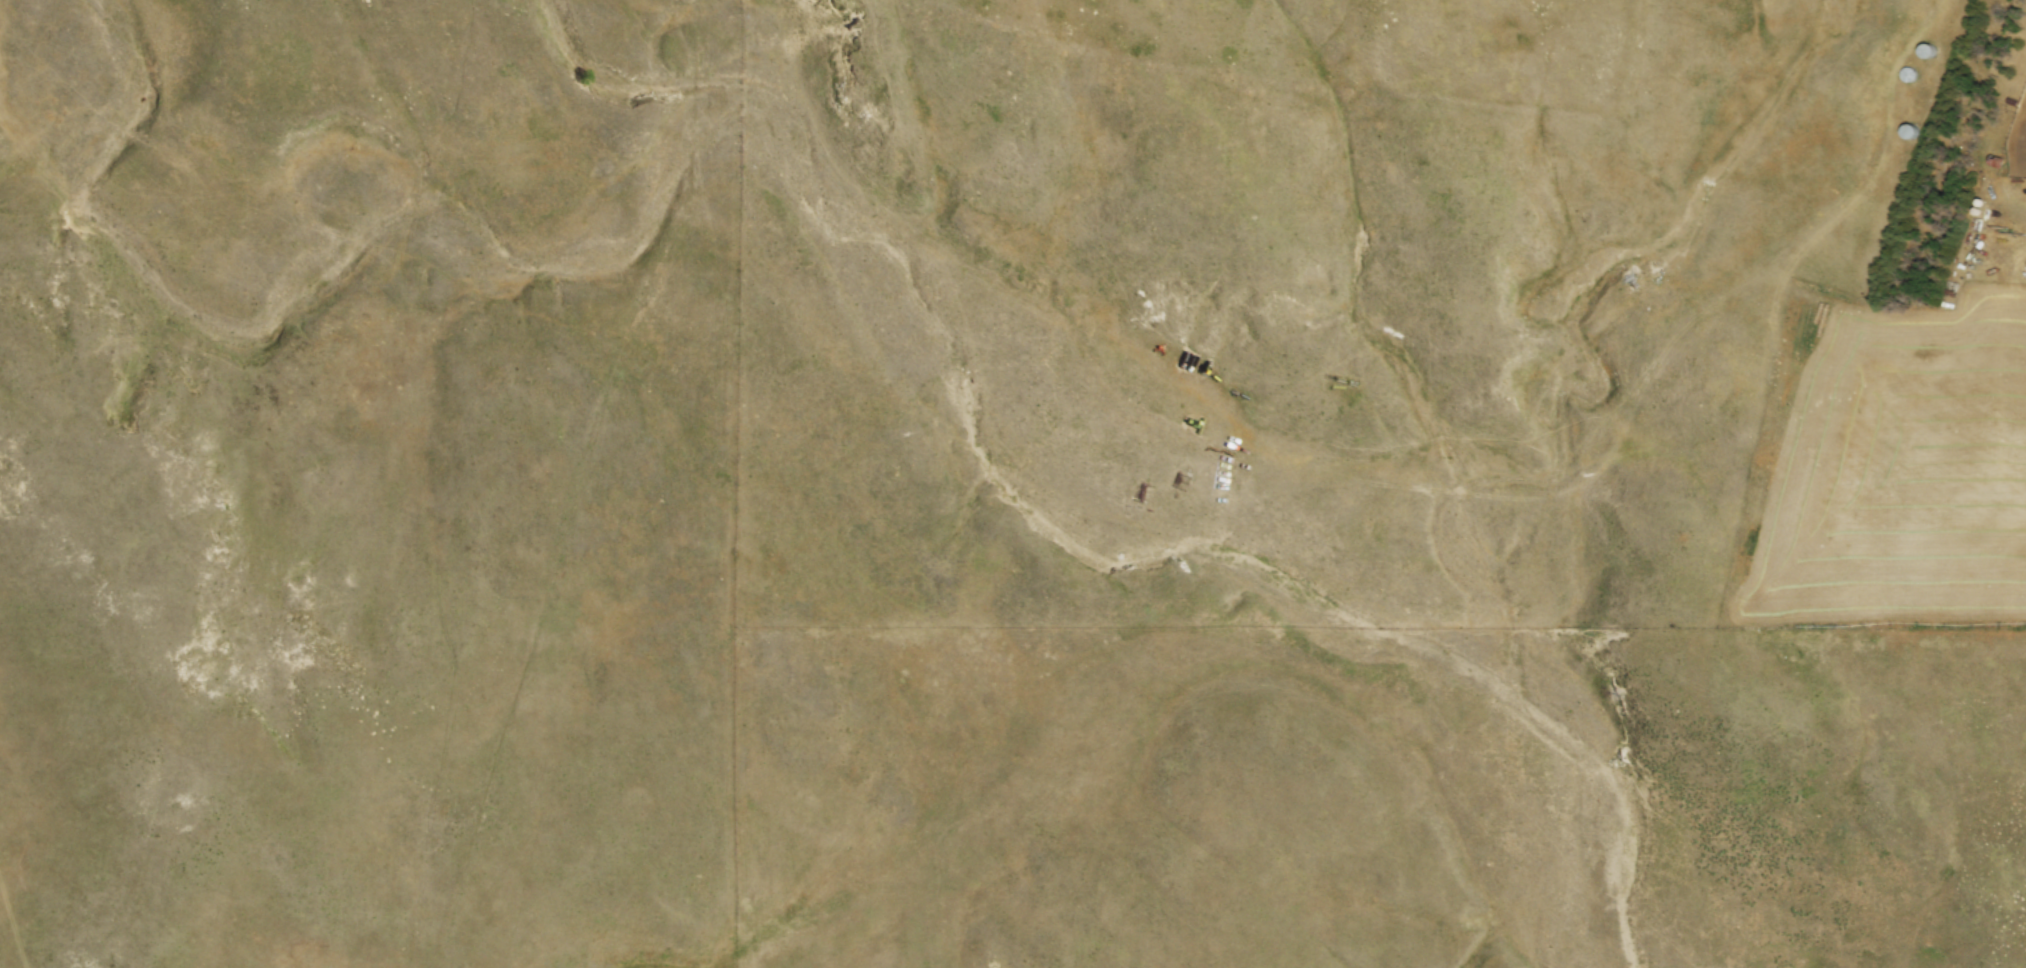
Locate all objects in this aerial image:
building: (1929, 48)
building: (1912, 129)

